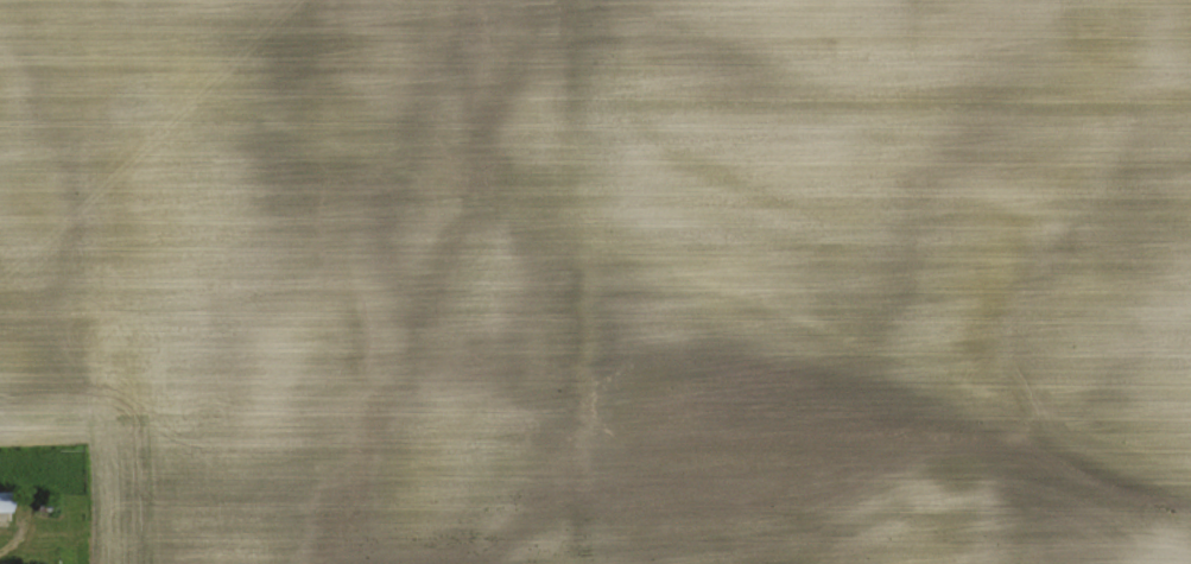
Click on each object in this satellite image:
road: (5, 550)

